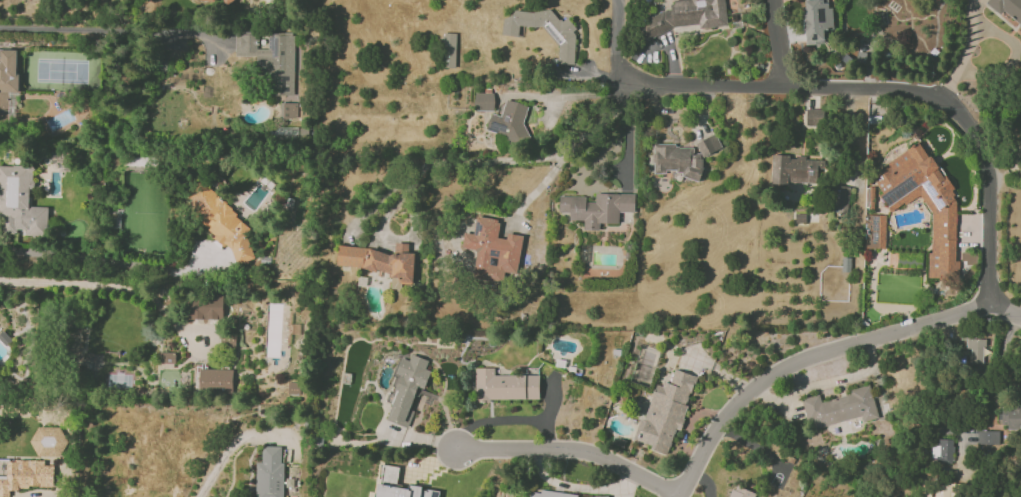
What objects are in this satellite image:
building: (197, 0)
building: (228, 0)
building: (1007, 8)
building: (687, 16)
building: (817, 20)
building: (563, 35)
road: (778, 43)
building: (449, 50)
road: (966, 53)
building: (271, 59)
building: (7, 79)
road: (854, 89)
road: (574, 94)
building: (484, 101)
building: (288, 110)
building: (814, 117)
building: (510, 120)
road: (628, 133)
building: (709, 145)
road: (569, 150)
building: (677, 161)
road: (446, 165)
building: (795, 169)
building: (841, 196)
building: (19, 202)
building: (597, 208)
building: (946, 211)
building: (221, 222)
building: (874, 231)
building: (492, 251)
road: (109, 261)
building: (380, 261)
road: (86, 285)
building: (204, 307)
road: (1005, 313)
building: (976, 350)
building: (167, 357)
road: (807, 362)
building: (216, 380)
building: (505, 385)
road: (955, 385)
building: (293, 388)
building: (406, 388)
building: (840, 408)
building: (666, 410)
building: (1011, 416)
building: (988, 437)
road: (231, 447)
road: (570, 451)
building: (943, 452)
building: (270, 472)
building: (24, 474)
building: (398, 485)
road: (575, 488)
building: (945, 490)
building: (739, 492)
building: (554, 494)

